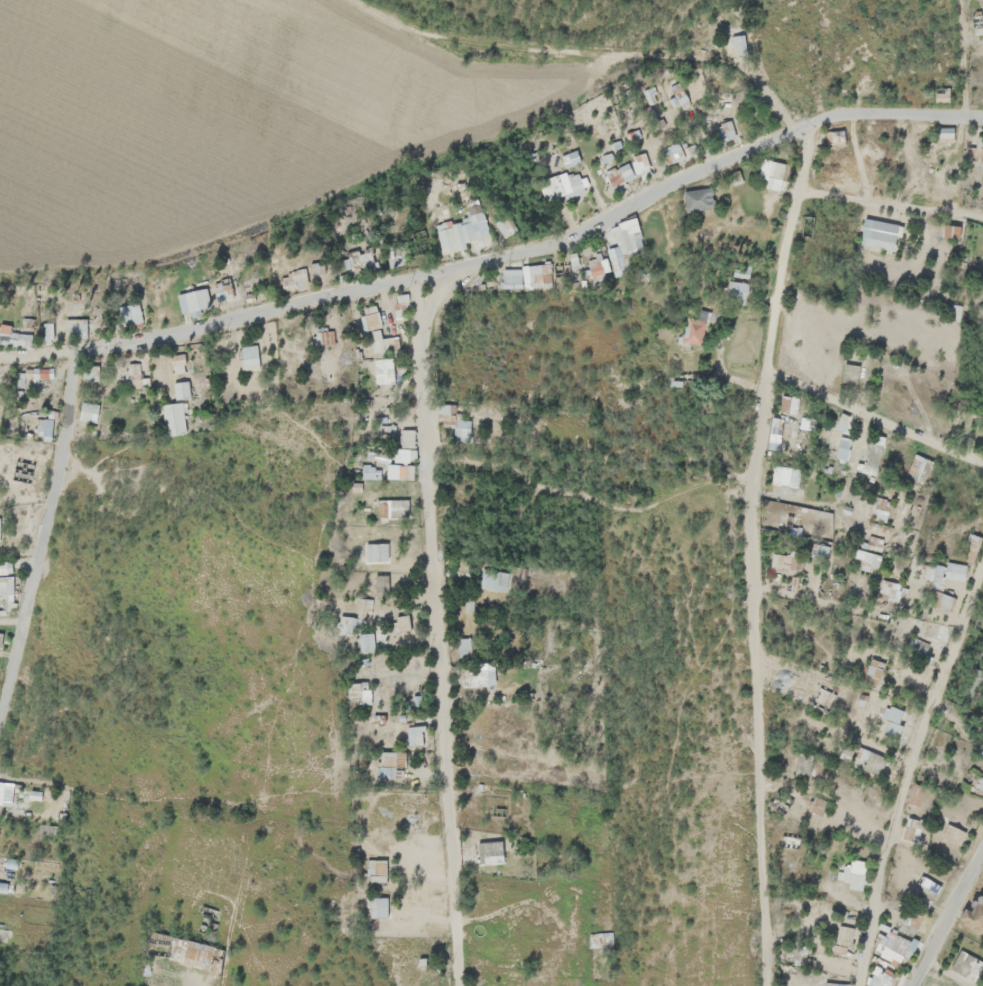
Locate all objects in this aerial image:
building: (982, 16)
building: (950, 128)
building: (629, 165)
building: (778, 170)
building: (576, 181)
road: (891, 202)
building: (885, 230)
road: (535, 247)
building: (620, 255)
building: (741, 288)
building: (198, 297)
building: (134, 313)
building: (696, 331)
road: (35, 352)
building: (253, 354)
building: (789, 400)
building: (92, 410)
building: (178, 417)
road: (874, 417)
building: (808, 418)
building: (465, 428)
building: (407, 445)
building: (785, 472)
road: (592, 497)
road: (43, 531)
road: (752, 552)
building: (872, 555)
building: (781, 559)
building: (959, 565)
road: (822, 598)
road: (436, 630)
road: (907, 772)
road: (946, 918)
road: (950, 972)

